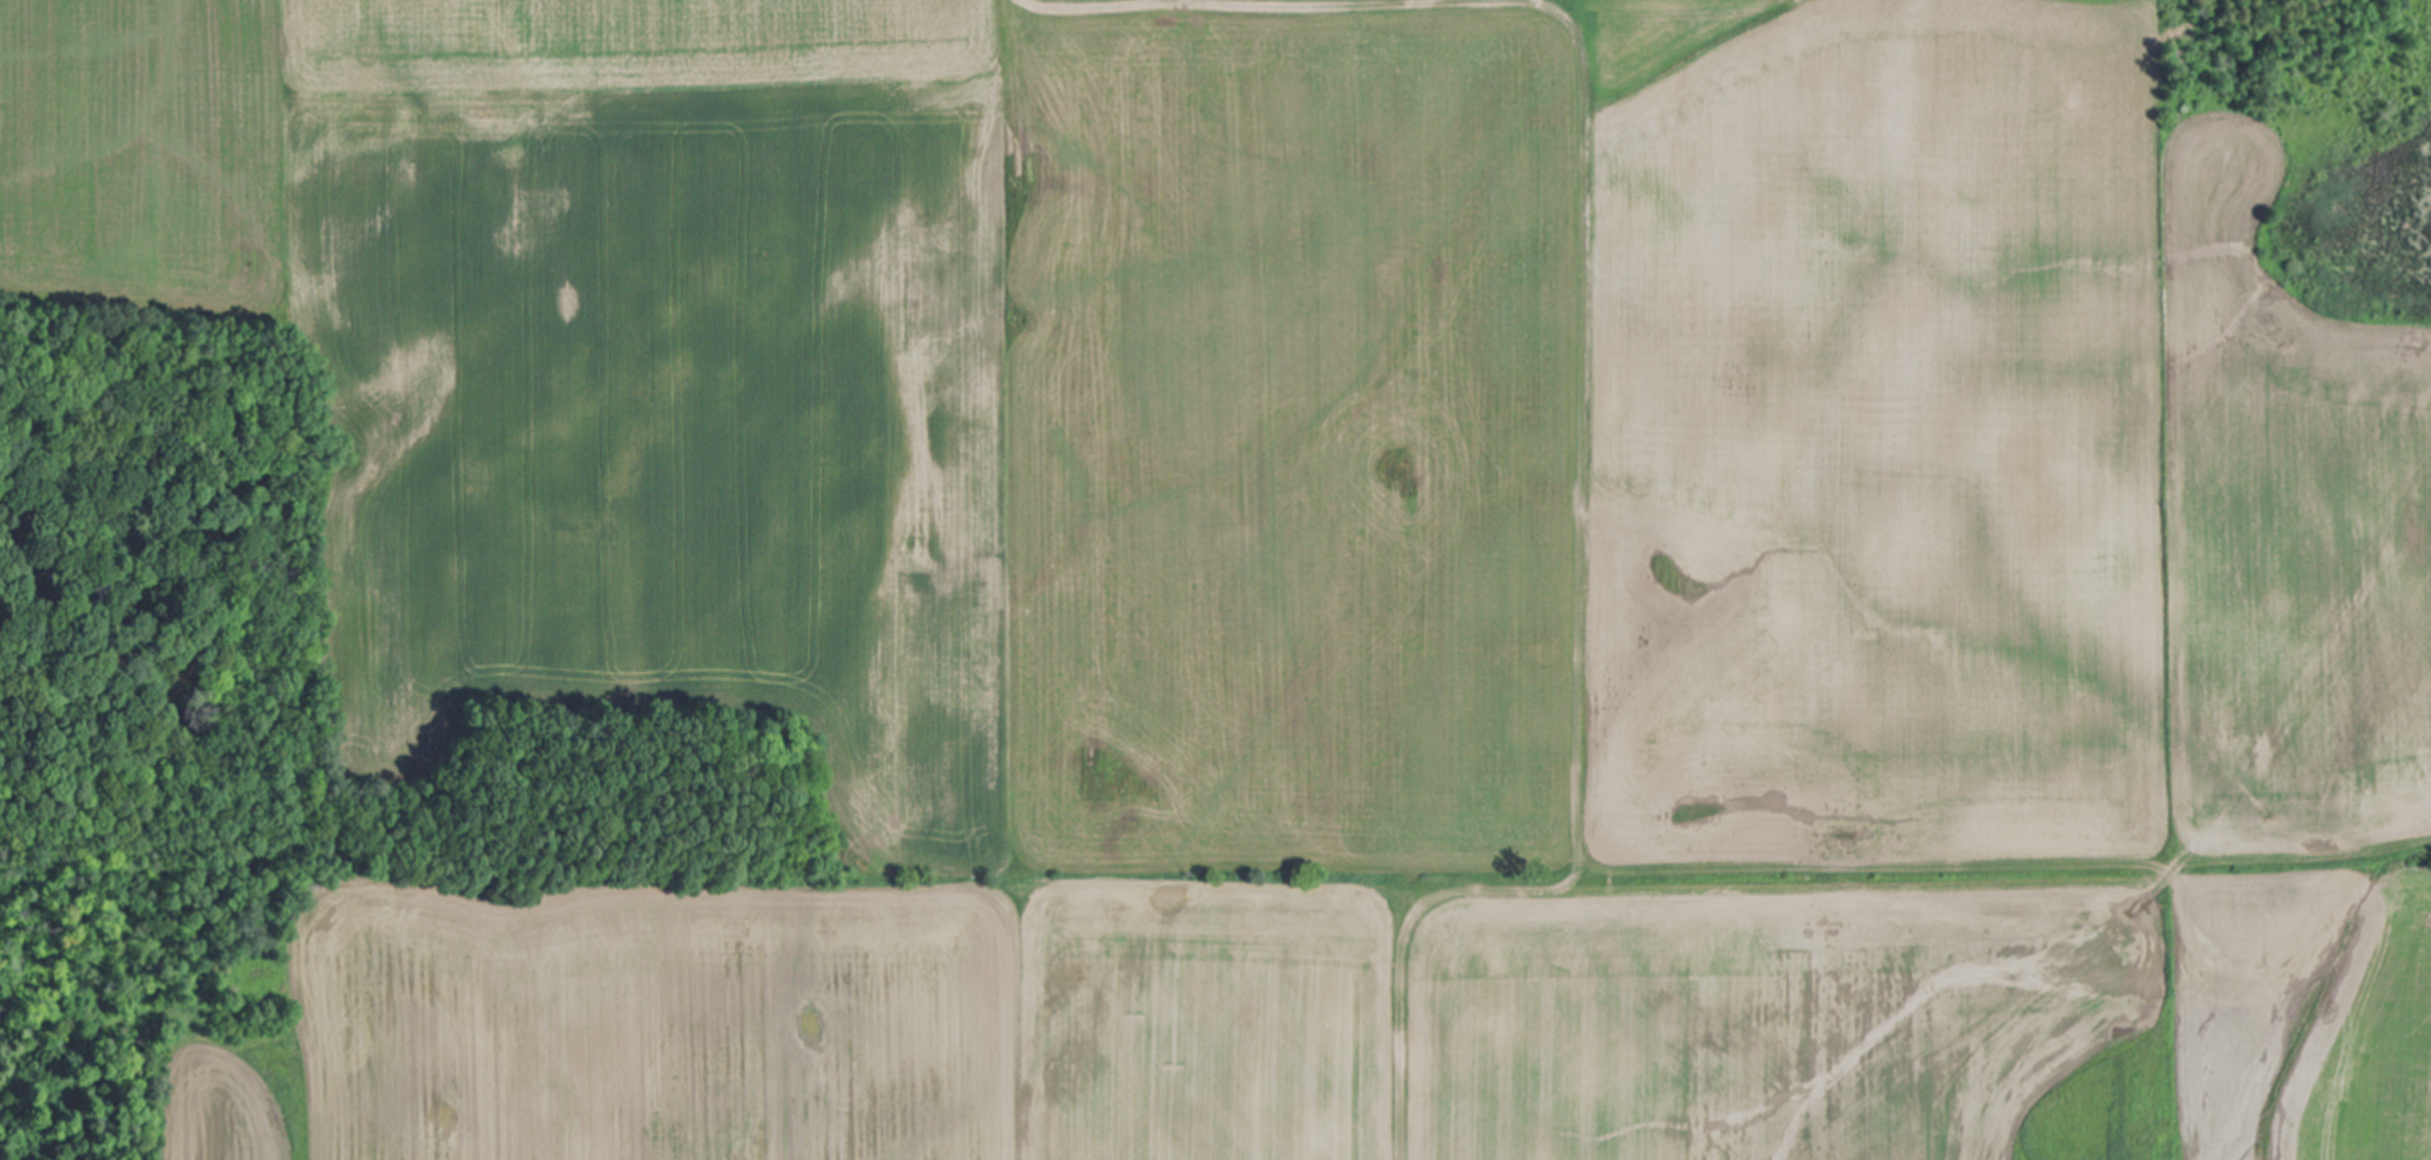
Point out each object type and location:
road: (1588, 381)

